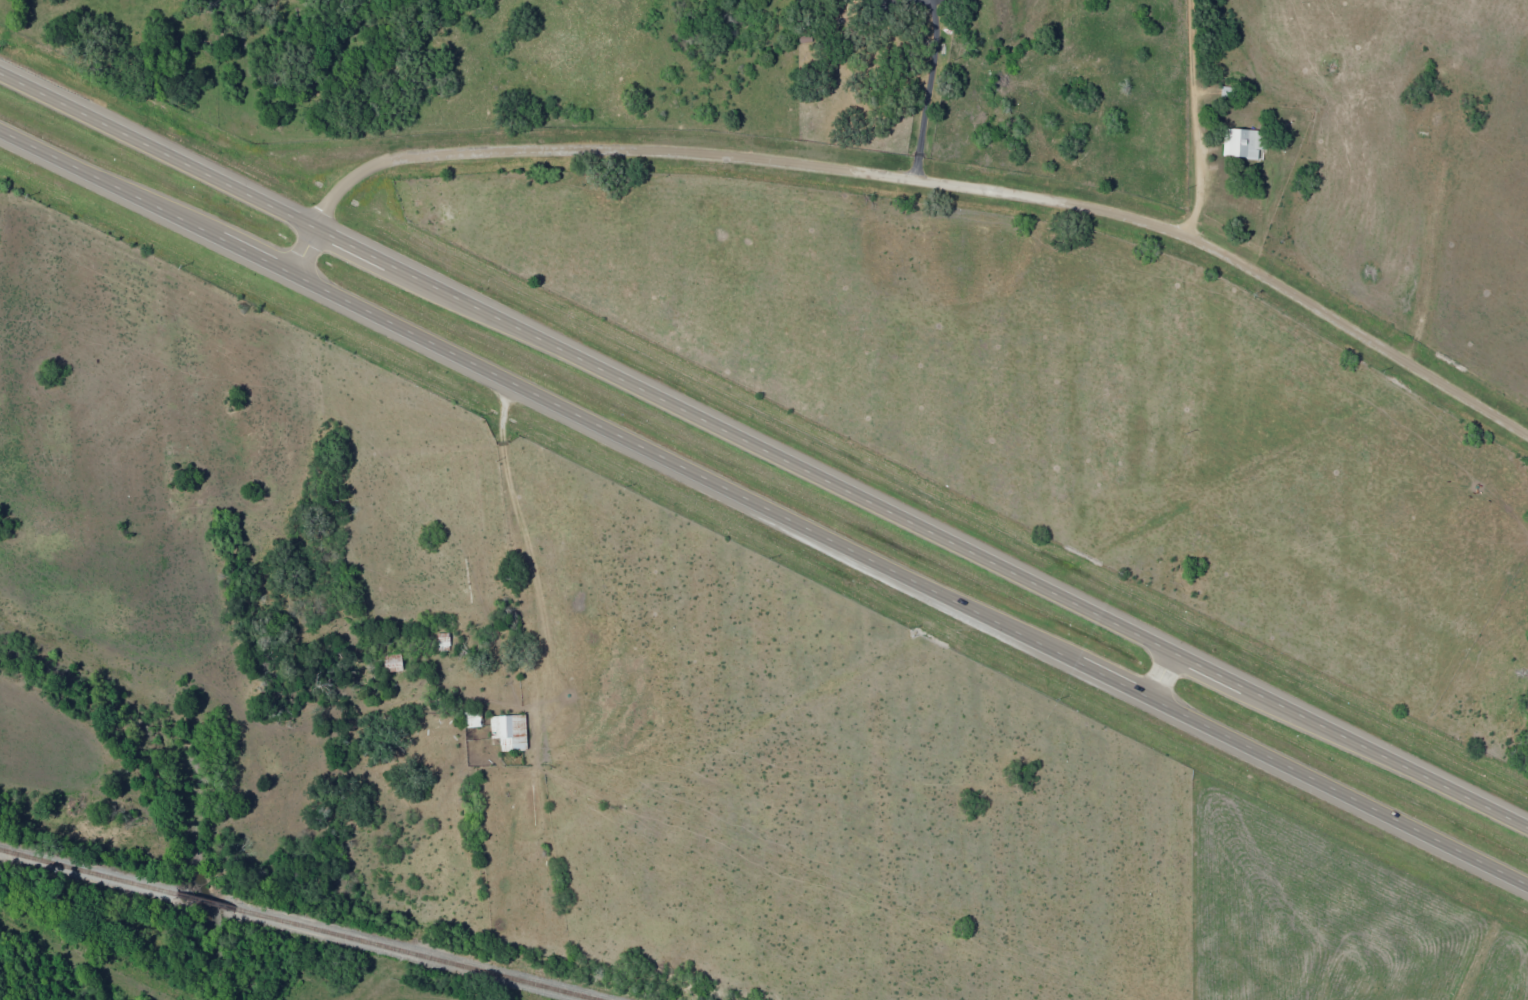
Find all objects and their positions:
road: (1199, 118)
building: (1243, 144)
road: (907, 174)
road: (763, 452)
road: (765, 507)
building: (392, 663)
road: (1161, 678)
building: (509, 731)
railway: (294, 926)

